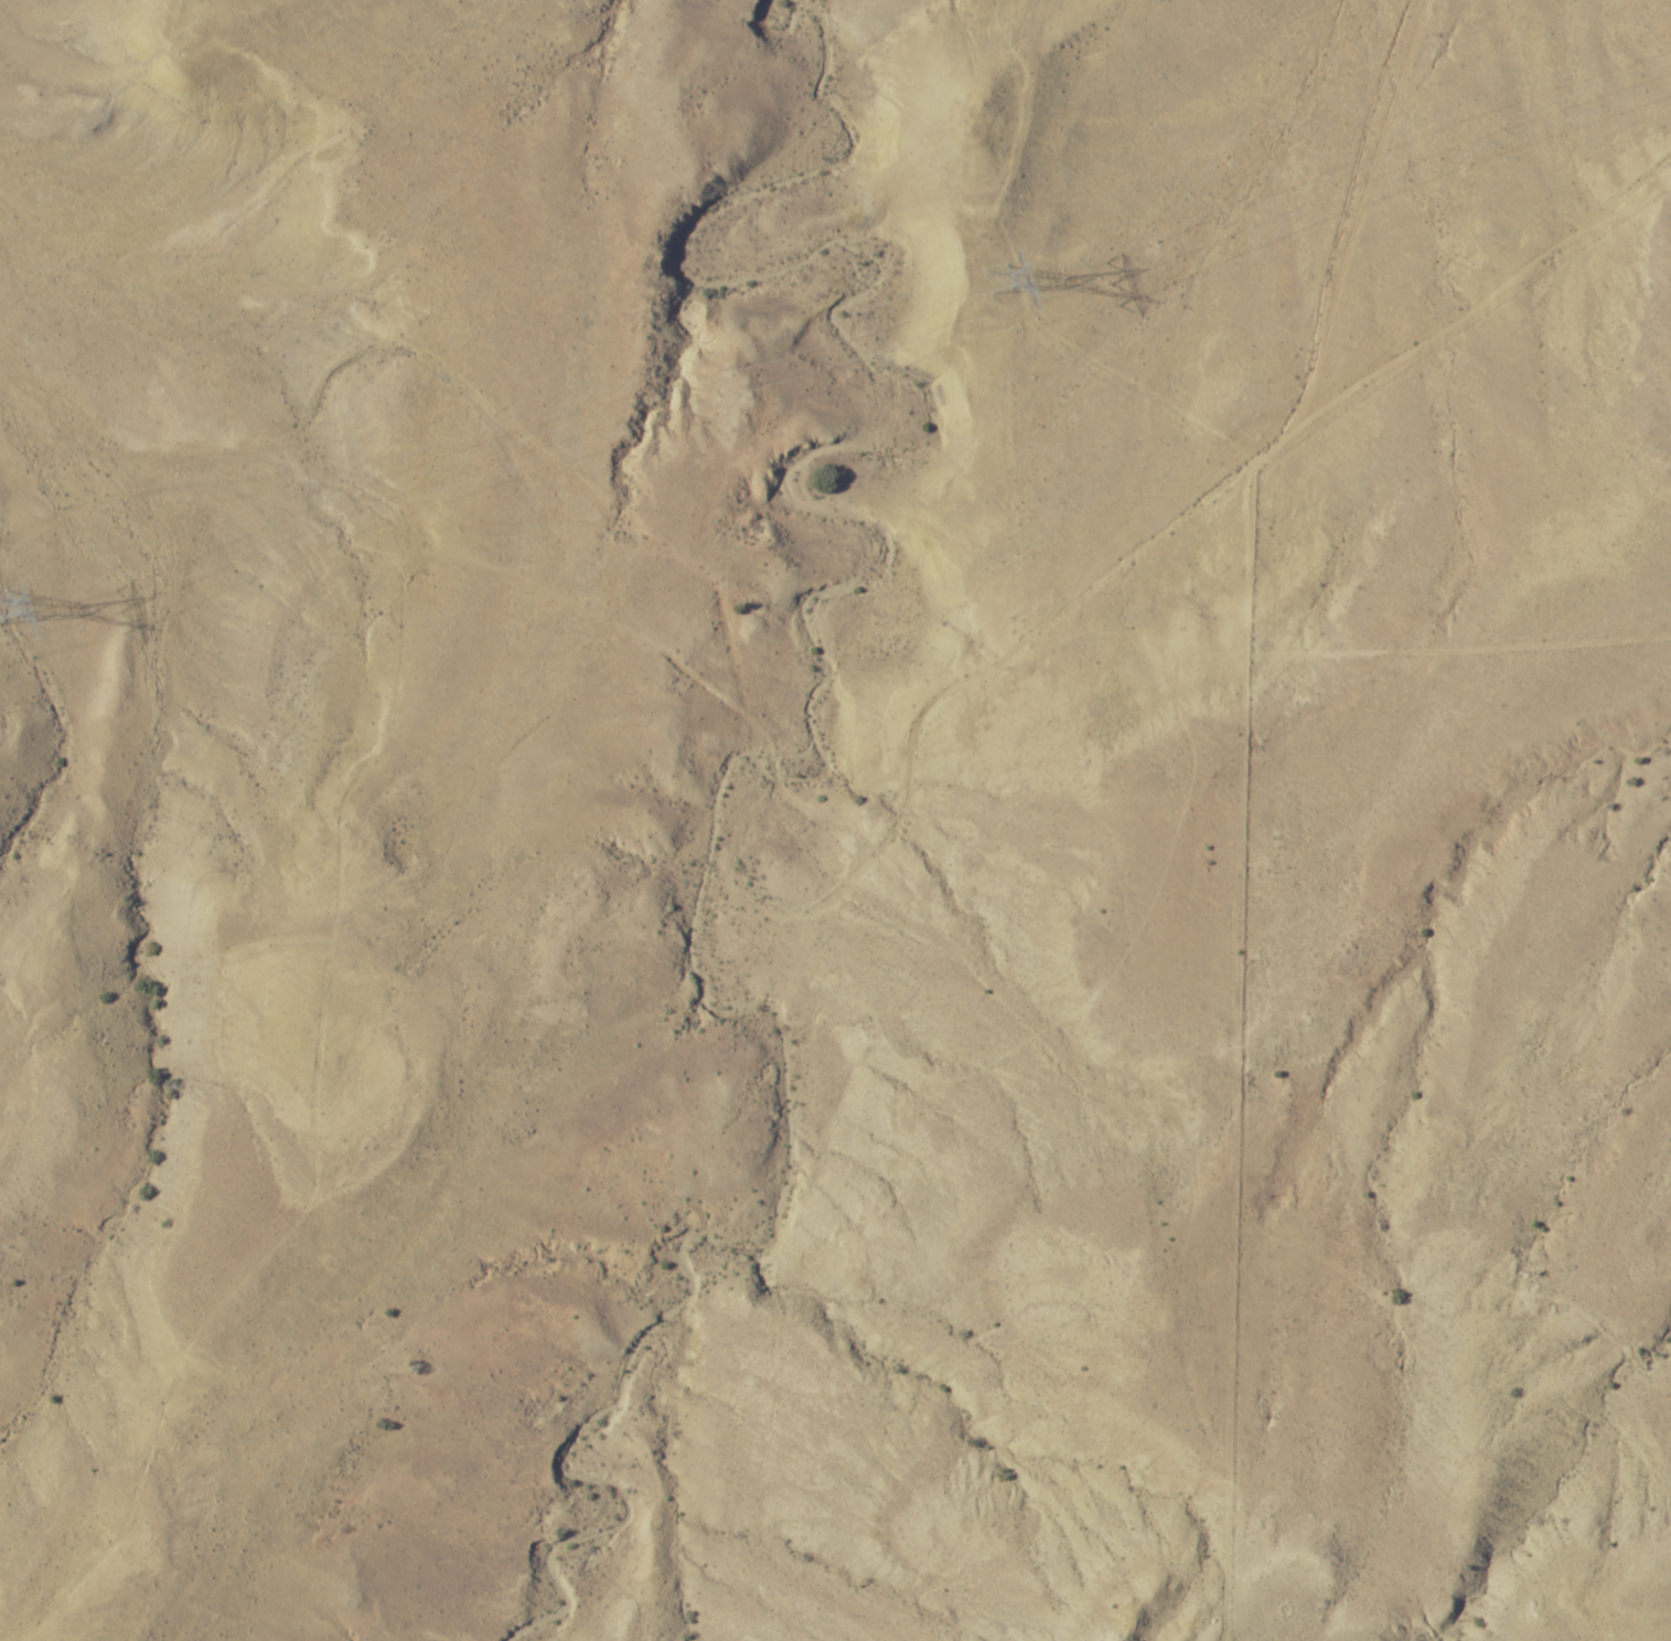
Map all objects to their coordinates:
road: (1348, 215)
power tower: (1007, 283)
road: (822, 860)

